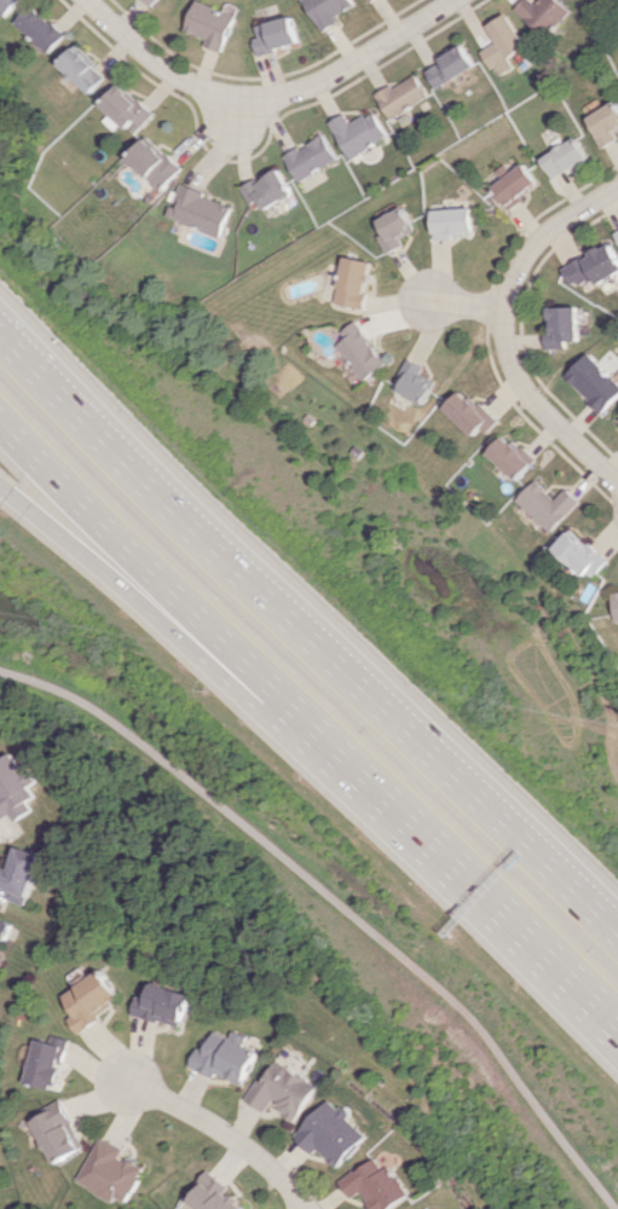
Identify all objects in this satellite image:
building: (368, 0)
building: (154, 1)
building: (8, 6)
building: (330, 11)
building: (544, 13)
building: (213, 24)
building: (41, 28)
building: (278, 35)
building: (503, 44)
building: (451, 64)
building: (82, 70)
road: (267, 94)
building: (402, 96)
building: (123, 109)
road: (235, 111)
building: (607, 125)
building: (358, 132)
building: (310, 157)
building: (567, 157)
building: (151, 163)
building: (515, 184)
building: (266, 190)
building: (197, 210)
building: (454, 221)
building: (393, 229)
building: (596, 266)
building: (354, 282)
road: (466, 302)
building: (566, 326)
road: (507, 330)
building: (363, 351)
building: (416, 381)
building: (597, 382)
building: (472, 413)
building: (513, 457)
building: (548, 504)
building: (581, 555)
road: (160, 571)
building: (614, 606)
road: (157, 607)
road: (308, 635)
building: (16, 788)
building: (21, 874)
road: (469, 875)
road: (333, 907)
building: (2, 929)
building: (92, 999)
building: (164, 1005)
building: (225, 1057)
building: (47, 1063)
building: (282, 1092)
building: (59, 1133)
road: (226, 1134)
building: (333, 1134)
building: (111, 1172)
building: (377, 1185)
building: (214, 1194)

